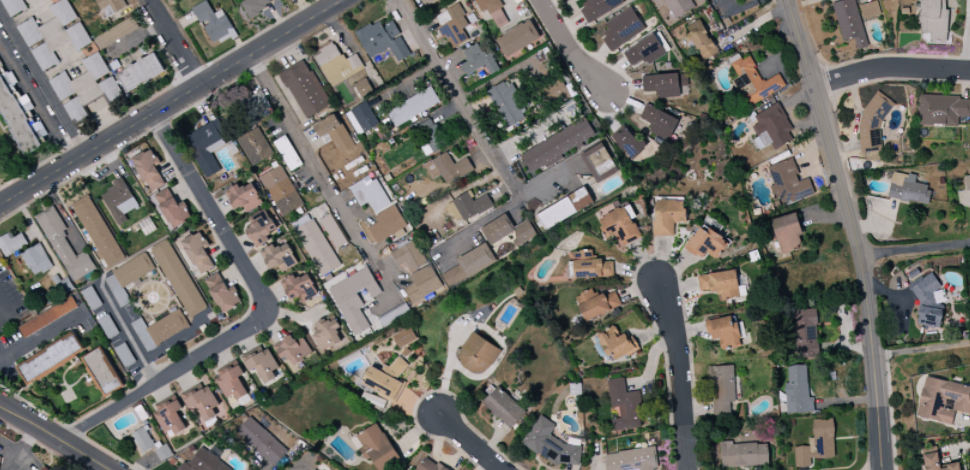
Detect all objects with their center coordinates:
building: (425, 1)
building: (109, 4)
building: (13, 6)
building: (255, 6)
building: (679, 7)
building: (598, 8)
building: (869, 10)
building: (493, 11)
building: (934, 20)
building: (212, 21)
building: (849, 22)
building: (453, 26)
building: (622, 29)
building: (53, 35)
road: (968, 36)
building: (517, 39)
building: (701, 39)
building: (102, 41)
building: (383, 41)
road: (174, 43)
road: (568, 49)
building: (645, 51)
building: (478, 60)
building: (336, 64)
road: (891, 71)
building: (140, 72)
building: (753, 81)
building: (664, 84)
building: (85, 88)
building: (304, 89)
road: (39, 91)
road: (458, 95)
road: (171, 102)
building: (506, 105)
building: (253, 106)
building: (413, 107)
building: (943, 110)
building: (17, 119)
building: (361, 119)
building: (659, 121)
building: (772, 129)
building: (334, 133)
building: (428, 137)
building: (557, 145)
building: (631, 145)
building: (254, 147)
building: (206, 148)
building: (599, 163)
building: (447, 168)
building: (149, 170)
road: (330, 181)
building: (787, 183)
building: (967, 183)
building: (907, 189)
building: (280, 191)
building: (369, 194)
building: (243, 197)
building: (119, 201)
building: (467, 207)
building: (172, 209)
building: (564, 209)
building: (317, 214)
building: (668, 216)
building: (387, 225)
building: (619, 225)
building: (260, 227)
building: (98, 231)
building: (333, 231)
building: (508, 231)
road: (852, 231)
building: (788, 234)
building: (12, 244)
building: (706, 244)
building: (314, 245)
building: (64, 247)
road: (915, 248)
building: (198, 254)
building: (408, 256)
building: (278, 257)
building: (36, 260)
building: (469, 265)
building: (589, 267)
building: (128, 273)
building: (178, 278)
road: (397, 280)
building: (720, 284)
building: (422, 285)
building: (300, 288)
building: (222, 294)
building: (352, 299)
building: (596, 304)
building: (927, 304)
road: (4, 308)
road: (259, 315)
building: (396, 315)
building: (47, 317)
road: (127, 332)
building: (725, 332)
building: (806, 334)
building: (327, 335)
road: (41, 336)
building: (403, 338)
building: (616, 344)
road: (921, 349)
building: (293, 350)
building: (477, 355)
building: (51, 359)
building: (262, 366)
building: (102, 372)
road: (678, 375)
building: (386, 380)
building: (232, 384)
building: (722, 391)
building: (797, 391)
building: (942, 400)
building: (202, 403)
building: (623, 406)
building: (504, 408)
building: (170, 418)
road: (53, 437)
building: (143, 440)
building: (261, 441)
building: (550, 443)
road: (469, 444)
building: (817, 444)
building: (376, 447)
road: (24, 448)
building: (744, 454)
building: (0, 456)
building: (632, 460)
building: (203, 462)
building: (937, 463)
building: (430, 465)
building: (45, 468)
building: (317, 468)
road: (101, 469)

